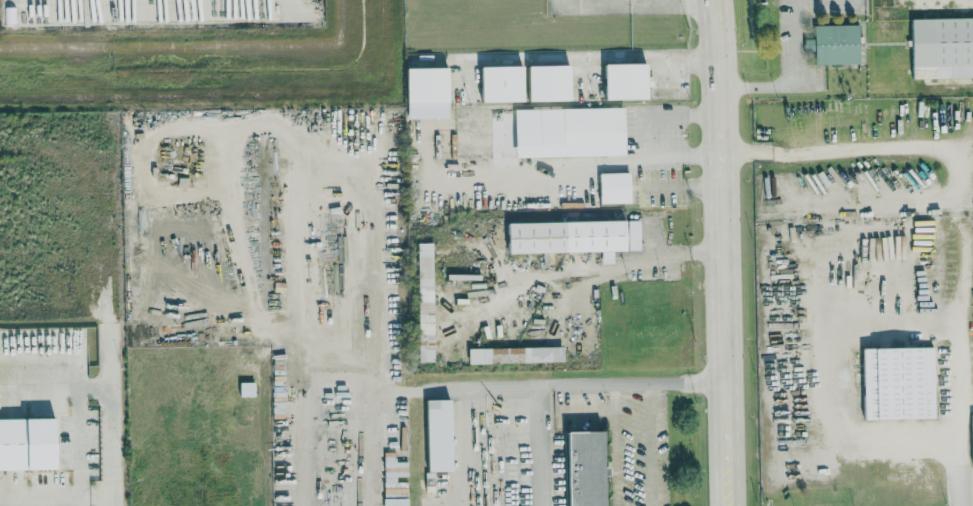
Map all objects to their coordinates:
road: (652, 2)
road: (671, 4)
road: (603, 6)
building: (831, 43)
building: (940, 47)
road: (585, 54)
road: (795, 80)
building: (629, 81)
building: (555, 82)
building: (508, 83)
building: (434, 85)
road: (213, 125)
building: (586, 131)
road: (642, 135)
road: (840, 149)
road: (552, 167)
road: (683, 186)
building: (619, 187)
building: (579, 237)
road: (723, 252)
road: (660, 255)
building: (428, 300)
road: (835, 318)
road: (960, 331)
building: (519, 355)
building: (894, 382)
road: (629, 383)
road: (104, 385)
road: (586, 408)
building: (444, 435)
building: (971, 439)
building: (32, 444)
road: (616, 444)
road: (650, 444)
road: (536, 446)
building: (397, 466)
building: (592, 468)
road: (53, 496)
building: (398, 496)
road: (107, 500)

